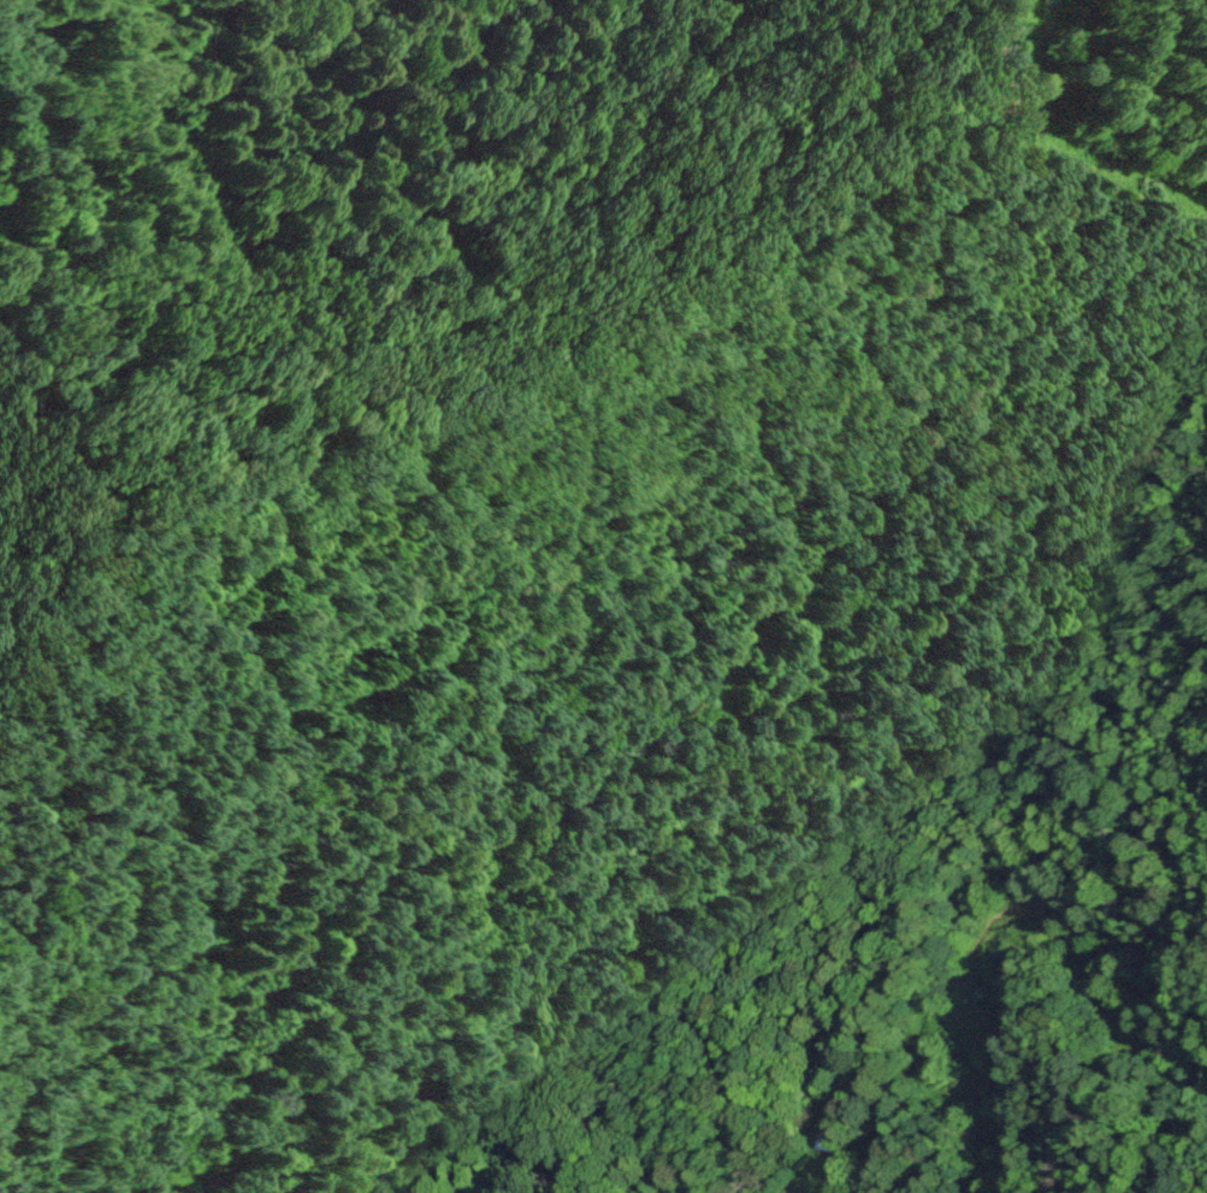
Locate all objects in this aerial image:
road: (998, 909)
building: (828, 1139)

